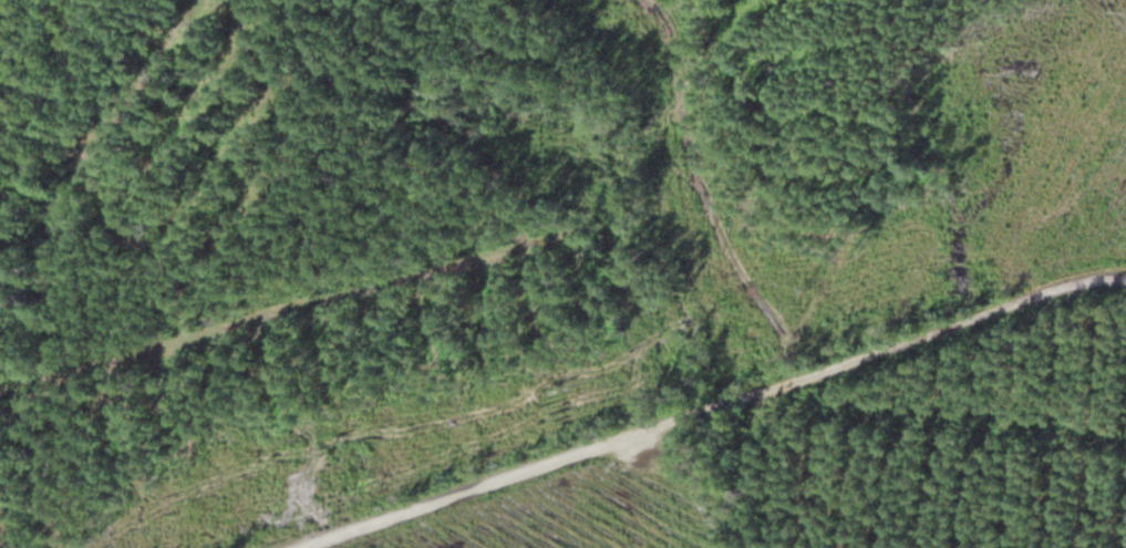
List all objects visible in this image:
road: (714, 406)

